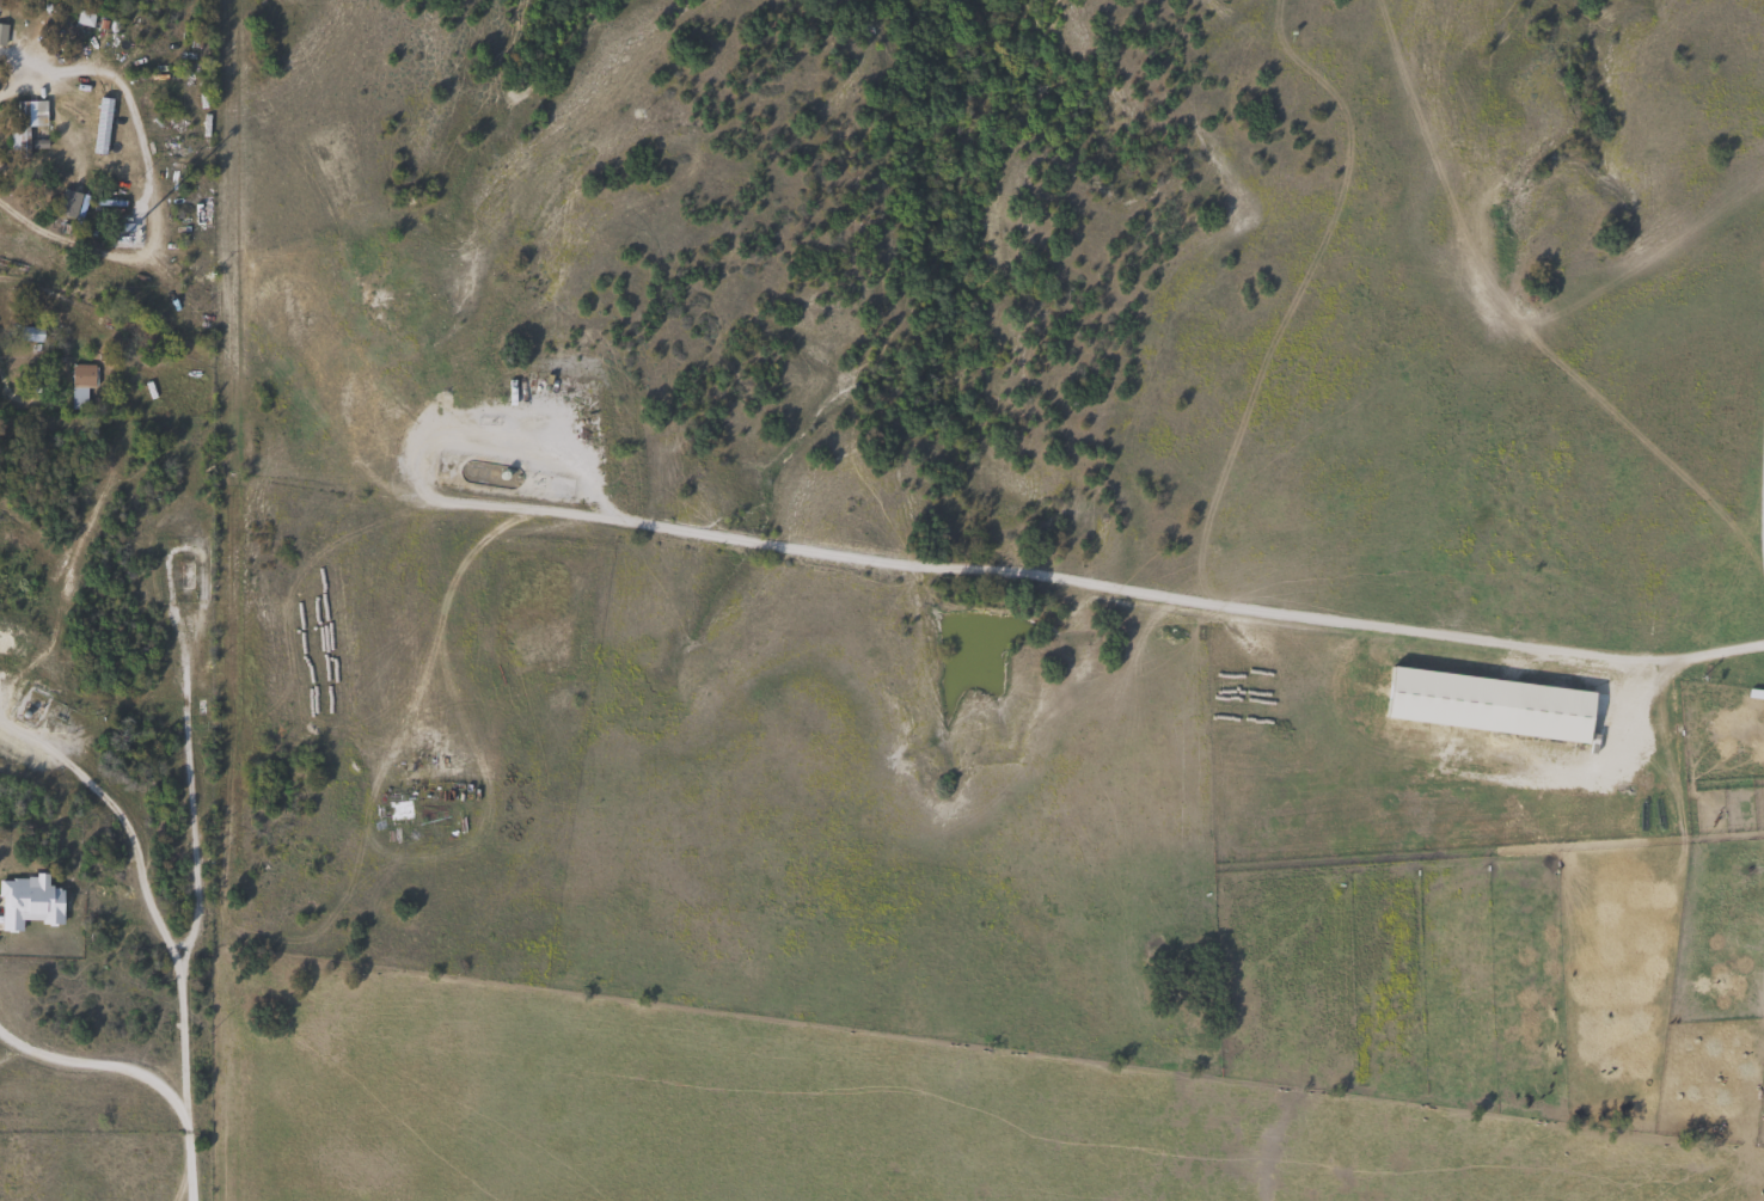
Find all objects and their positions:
building: (82, 17)
building: (1, 32)
building: (23, 123)
road: (149, 185)
building: (65, 203)
road: (50, 278)
building: (79, 385)
road: (423, 431)
road: (1174, 601)
building: (1549, 724)
road: (154, 924)
road: (98, 1064)
road: (185, 1159)

